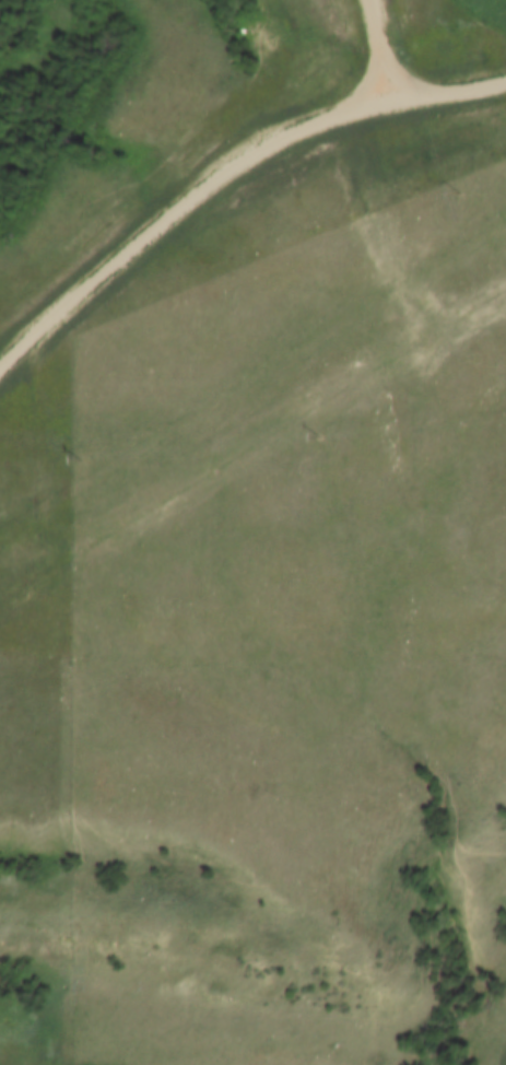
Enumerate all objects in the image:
road: (368, 43)
road: (442, 72)
road: (166, 198)

